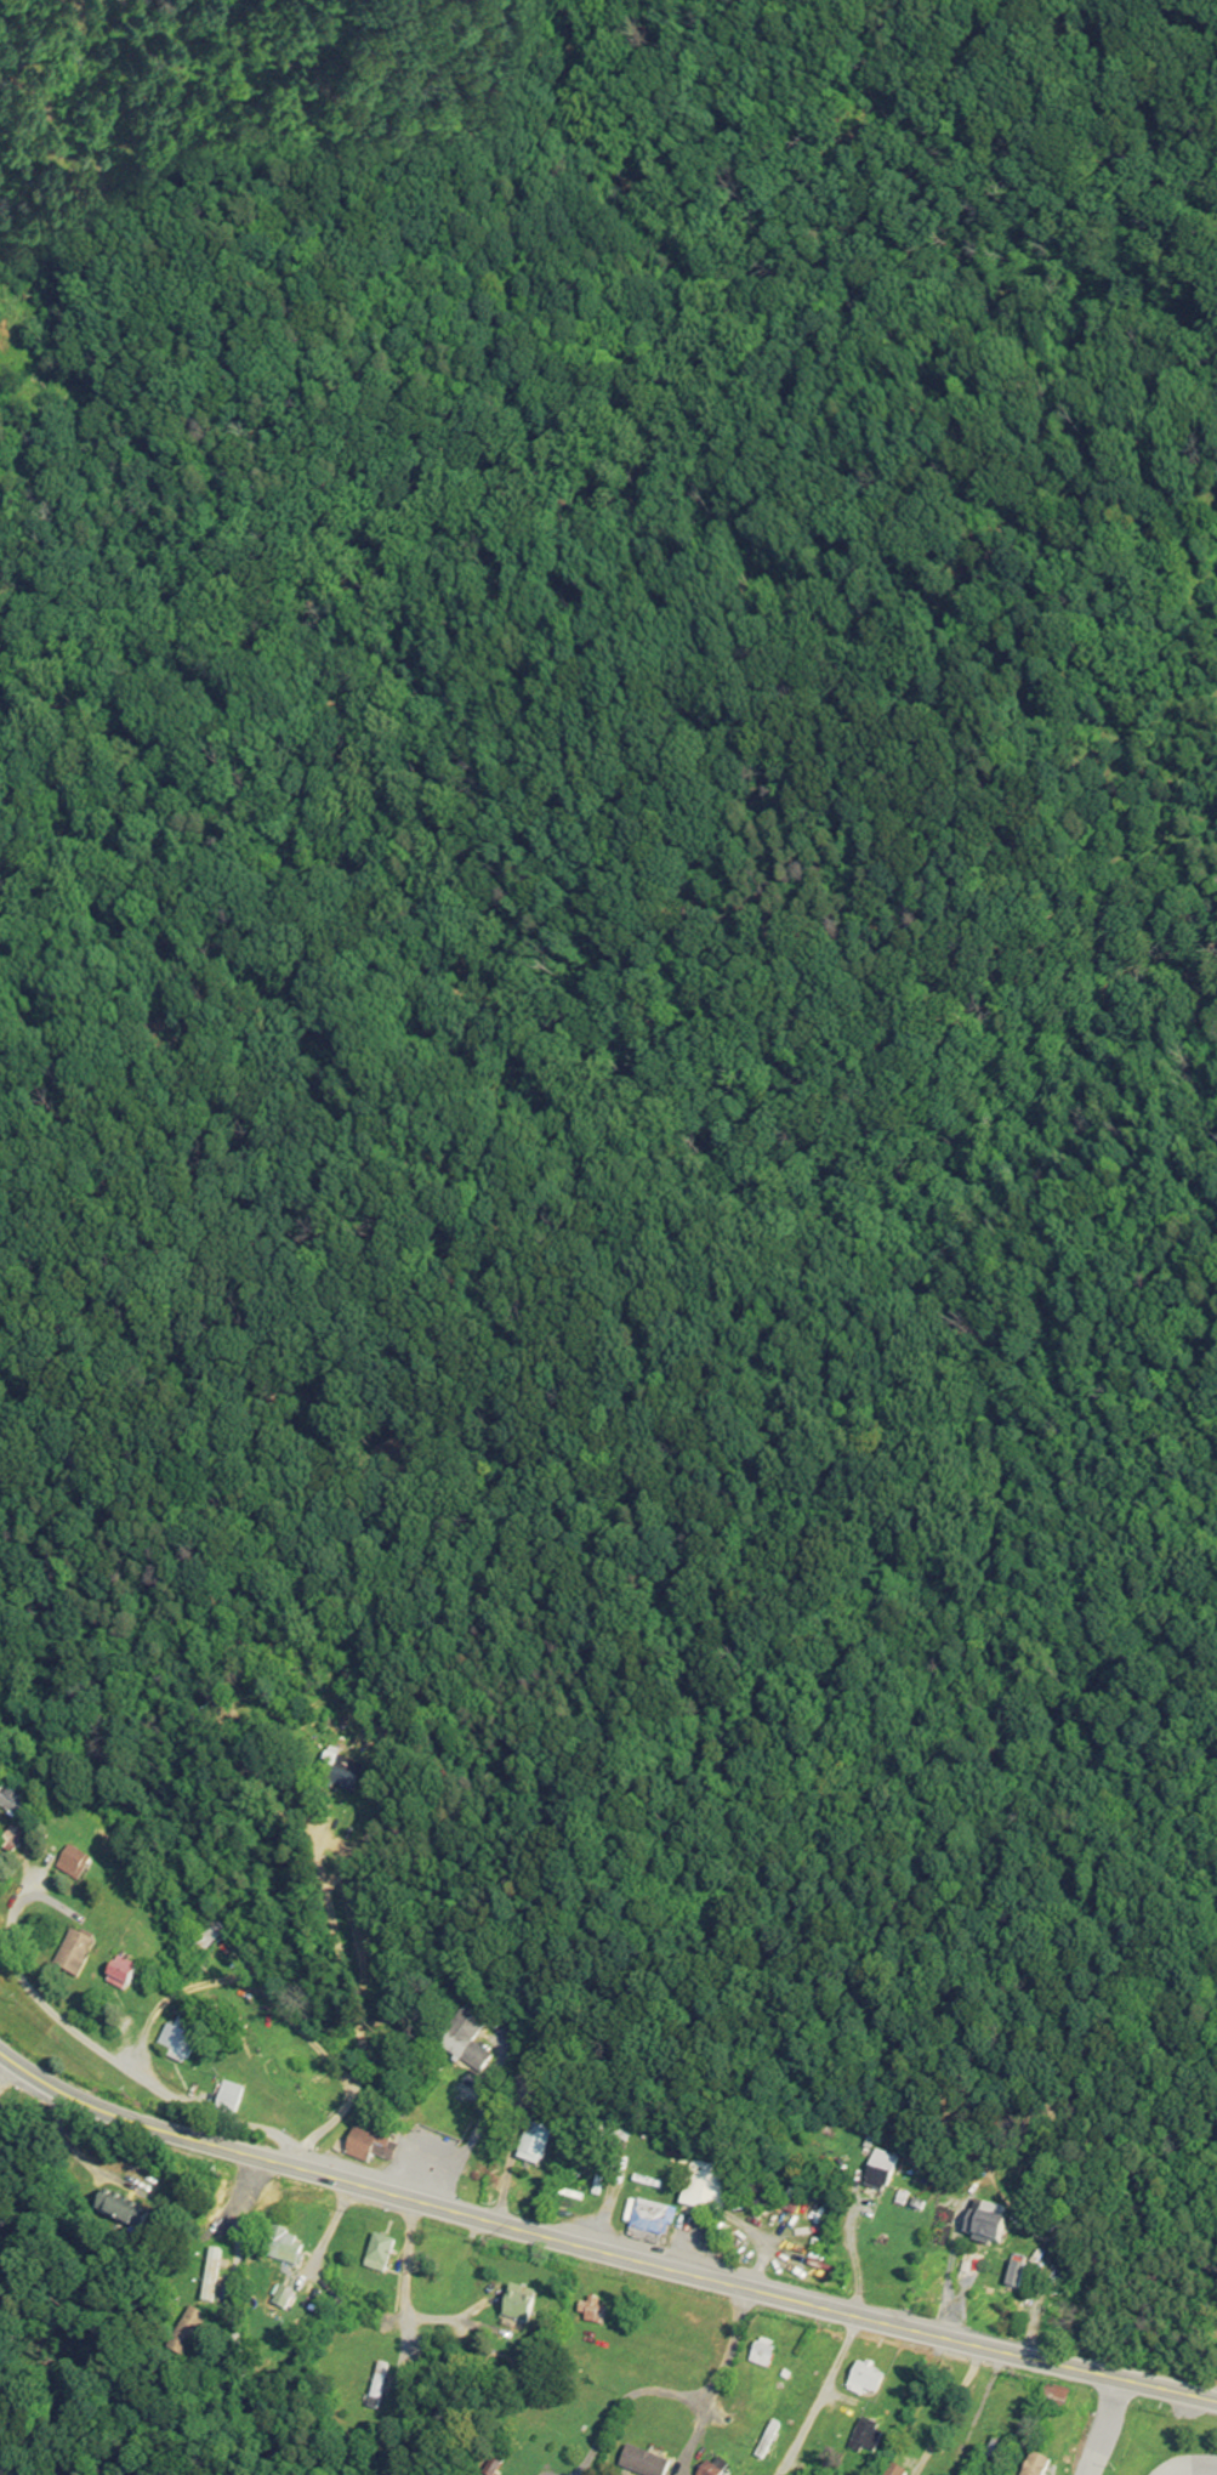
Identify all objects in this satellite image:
road: (1120, 157)
road: (45, 1755)
building: (11, 1805)
building: (72, 1867)
building: (206, 1932)
building: (73, 1958)
road: (342, 1980)
building: (464, 2042)
building: (178, 2043)
road: (107, 2056)
road: (7, 2067)
building: (228, 2104)
building: (370, 2146)
building: (533, 2148)
building: (880, 2173)
building: (705, 2190)
building: (120, 2210)
road: (601, 2213)
building: (648, 2220)
building: (984, 2231)
building: (713, 2237)
building: (284, 2247)
building: (379, 2253)
road: (597, 2254)
road: (411, 2264)
road: (234, 2282)
road: (959, 2289)
building: (518, 2305)
building: (186, 2333)
building: (762, 2355)
building: (866, 2379)
building: (376, 2380)
road: (819, 2399)
building: (1054, 2399)
road: (681, 2402)
road: (1101, 2426)
building: (869, 2439)
building: (999, 2452)
building: (643, 2464)
building: (1036, 2465)
road: (1190, 2467)
building: (707, 2471)
building: (895, 2471)

